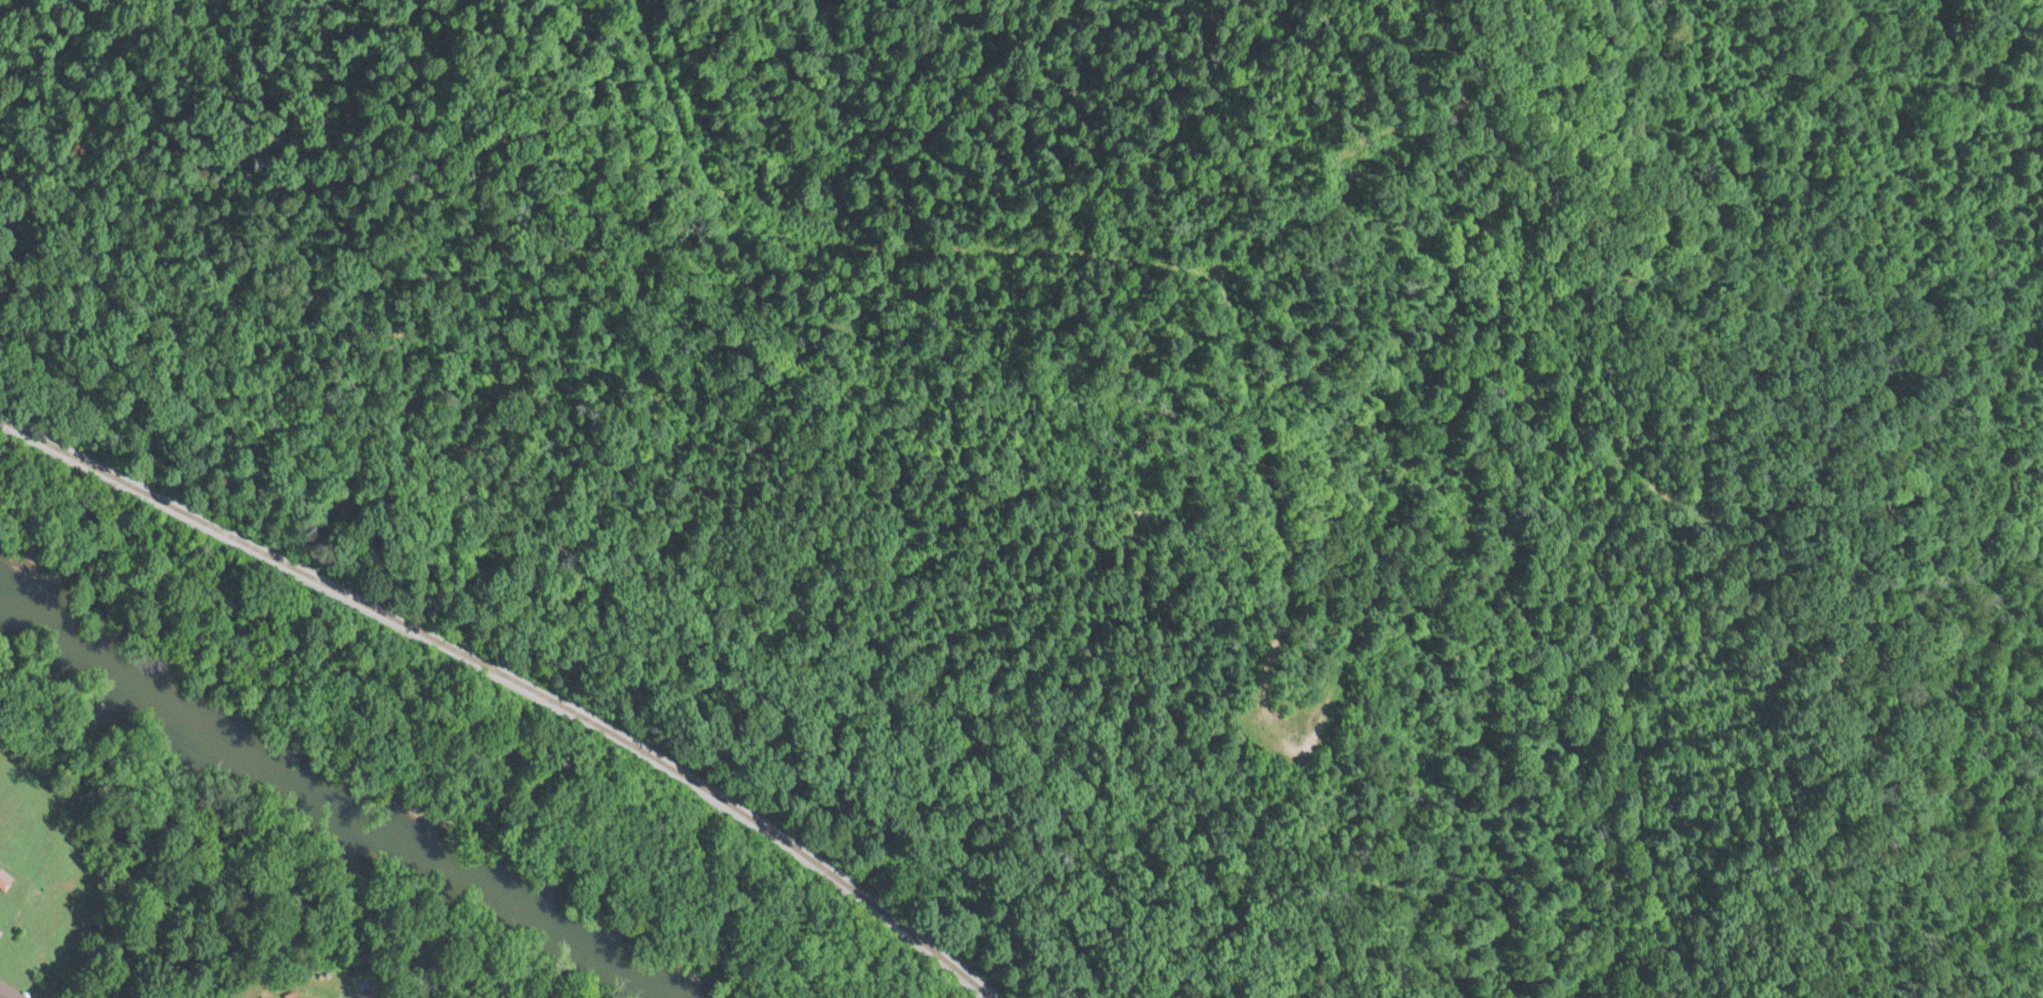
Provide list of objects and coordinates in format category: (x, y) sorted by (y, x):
railway: (513, 680)
river: (181, 712)
building: (3, 879)
river: (501, 916)
building: (0, 932)
building: (9, 992)

